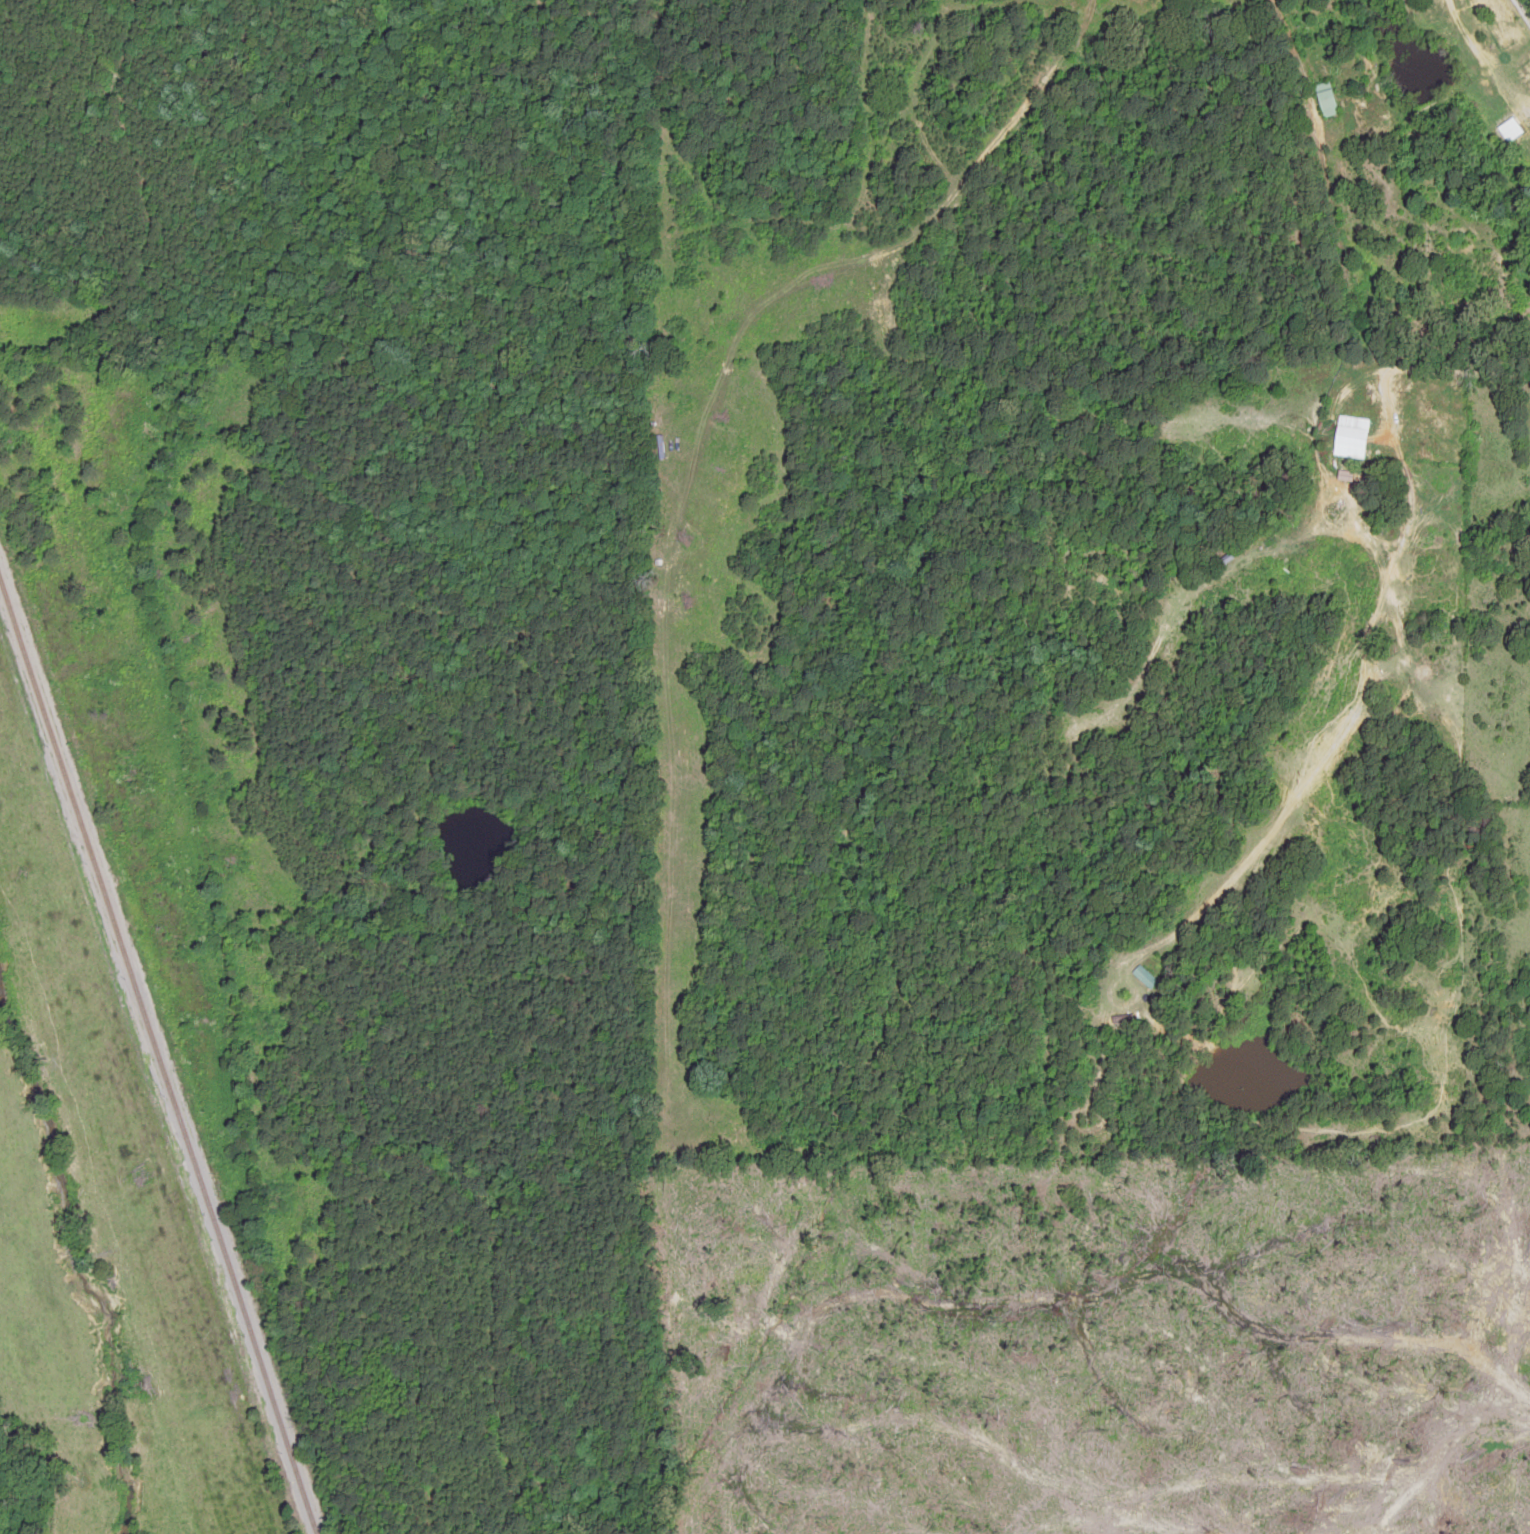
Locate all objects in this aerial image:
building: (1326, 99)
building: (1510, 129)
road: (1213, 143)
building: (1350, 437)
building: (1145, 977)
building: (1121, 1020)
railway: (149, 1064)

